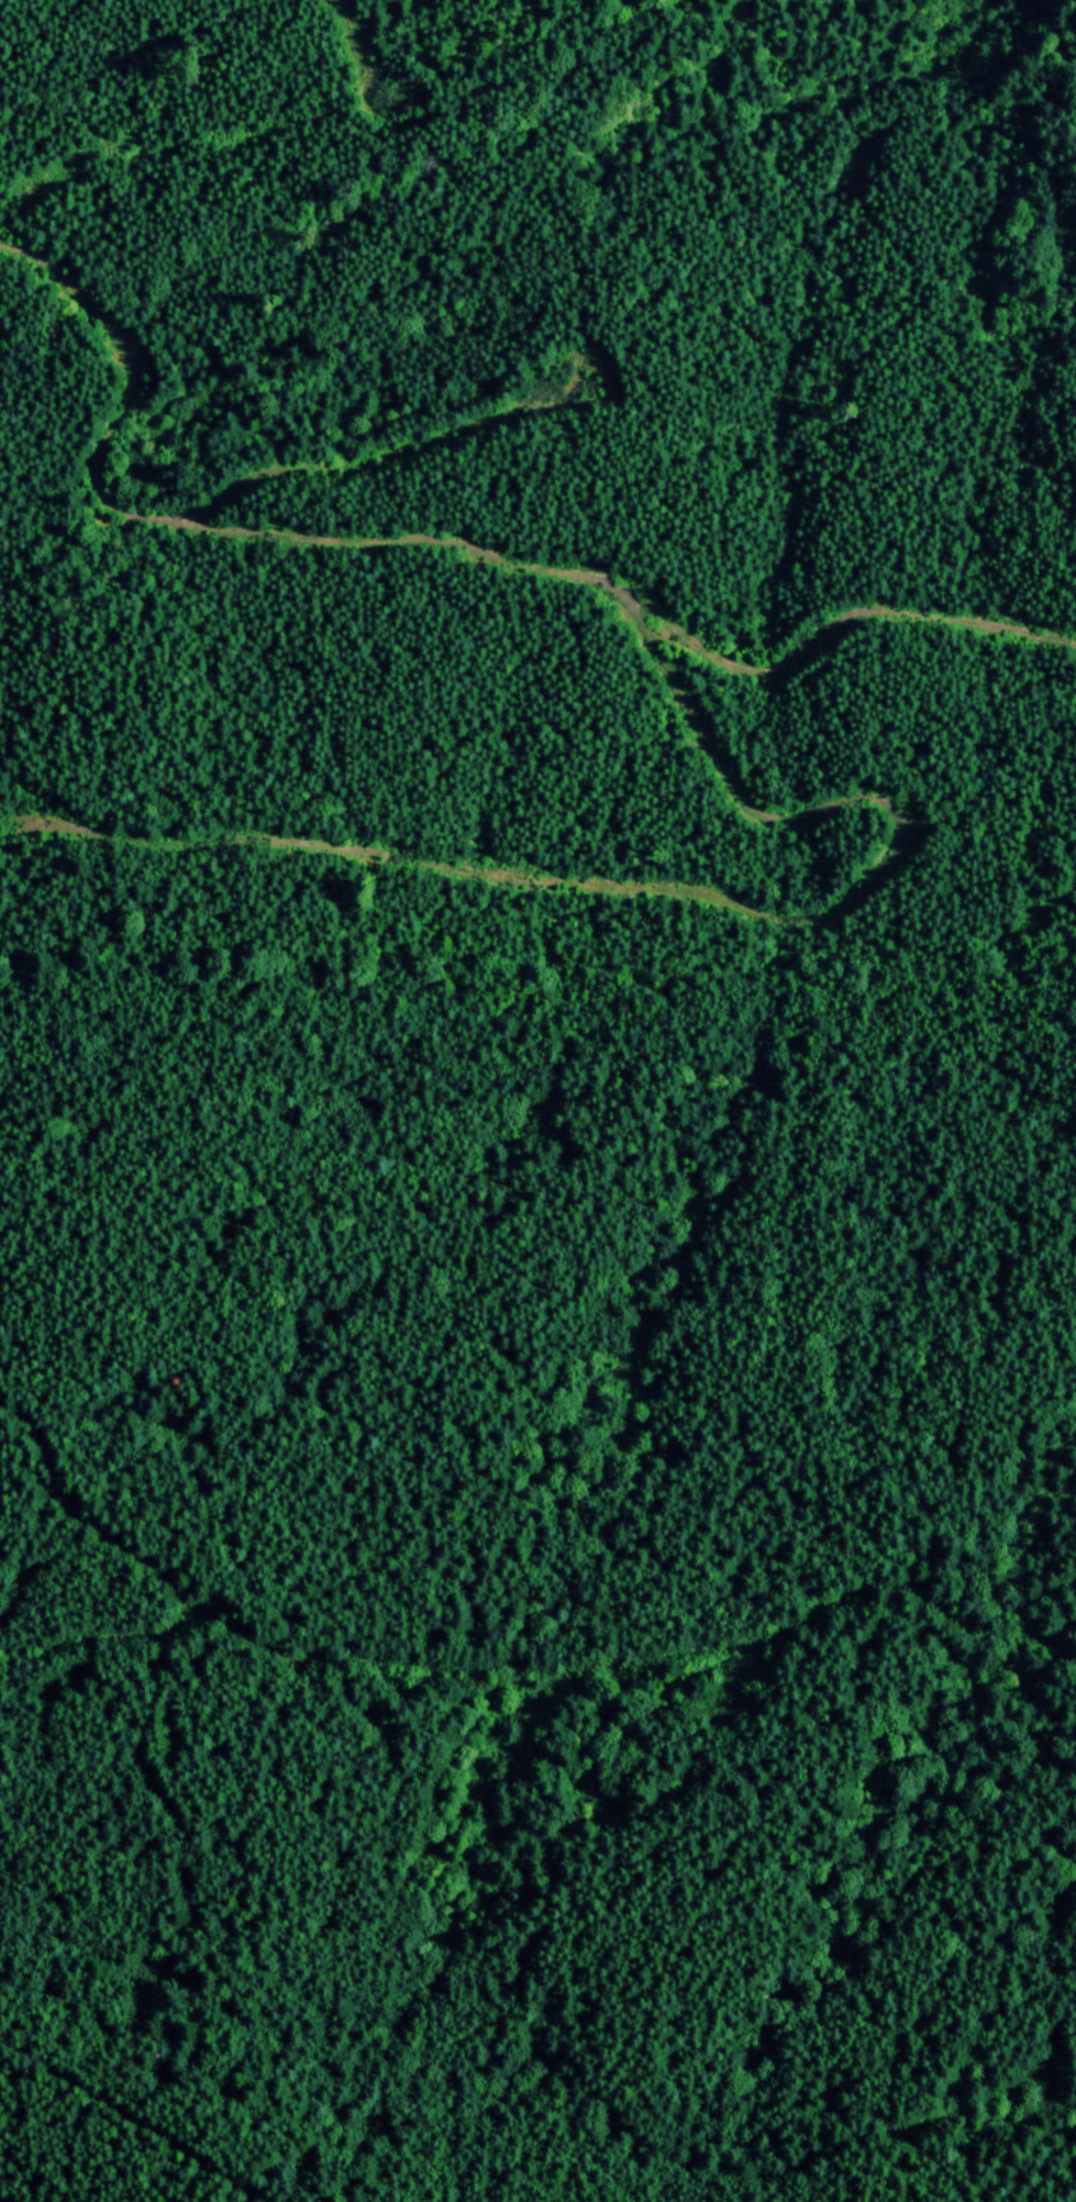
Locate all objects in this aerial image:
road: (357, 52)
road: (377, 454)
road: (452, 545)
road: (680, 897)
road: (126, 2110)

